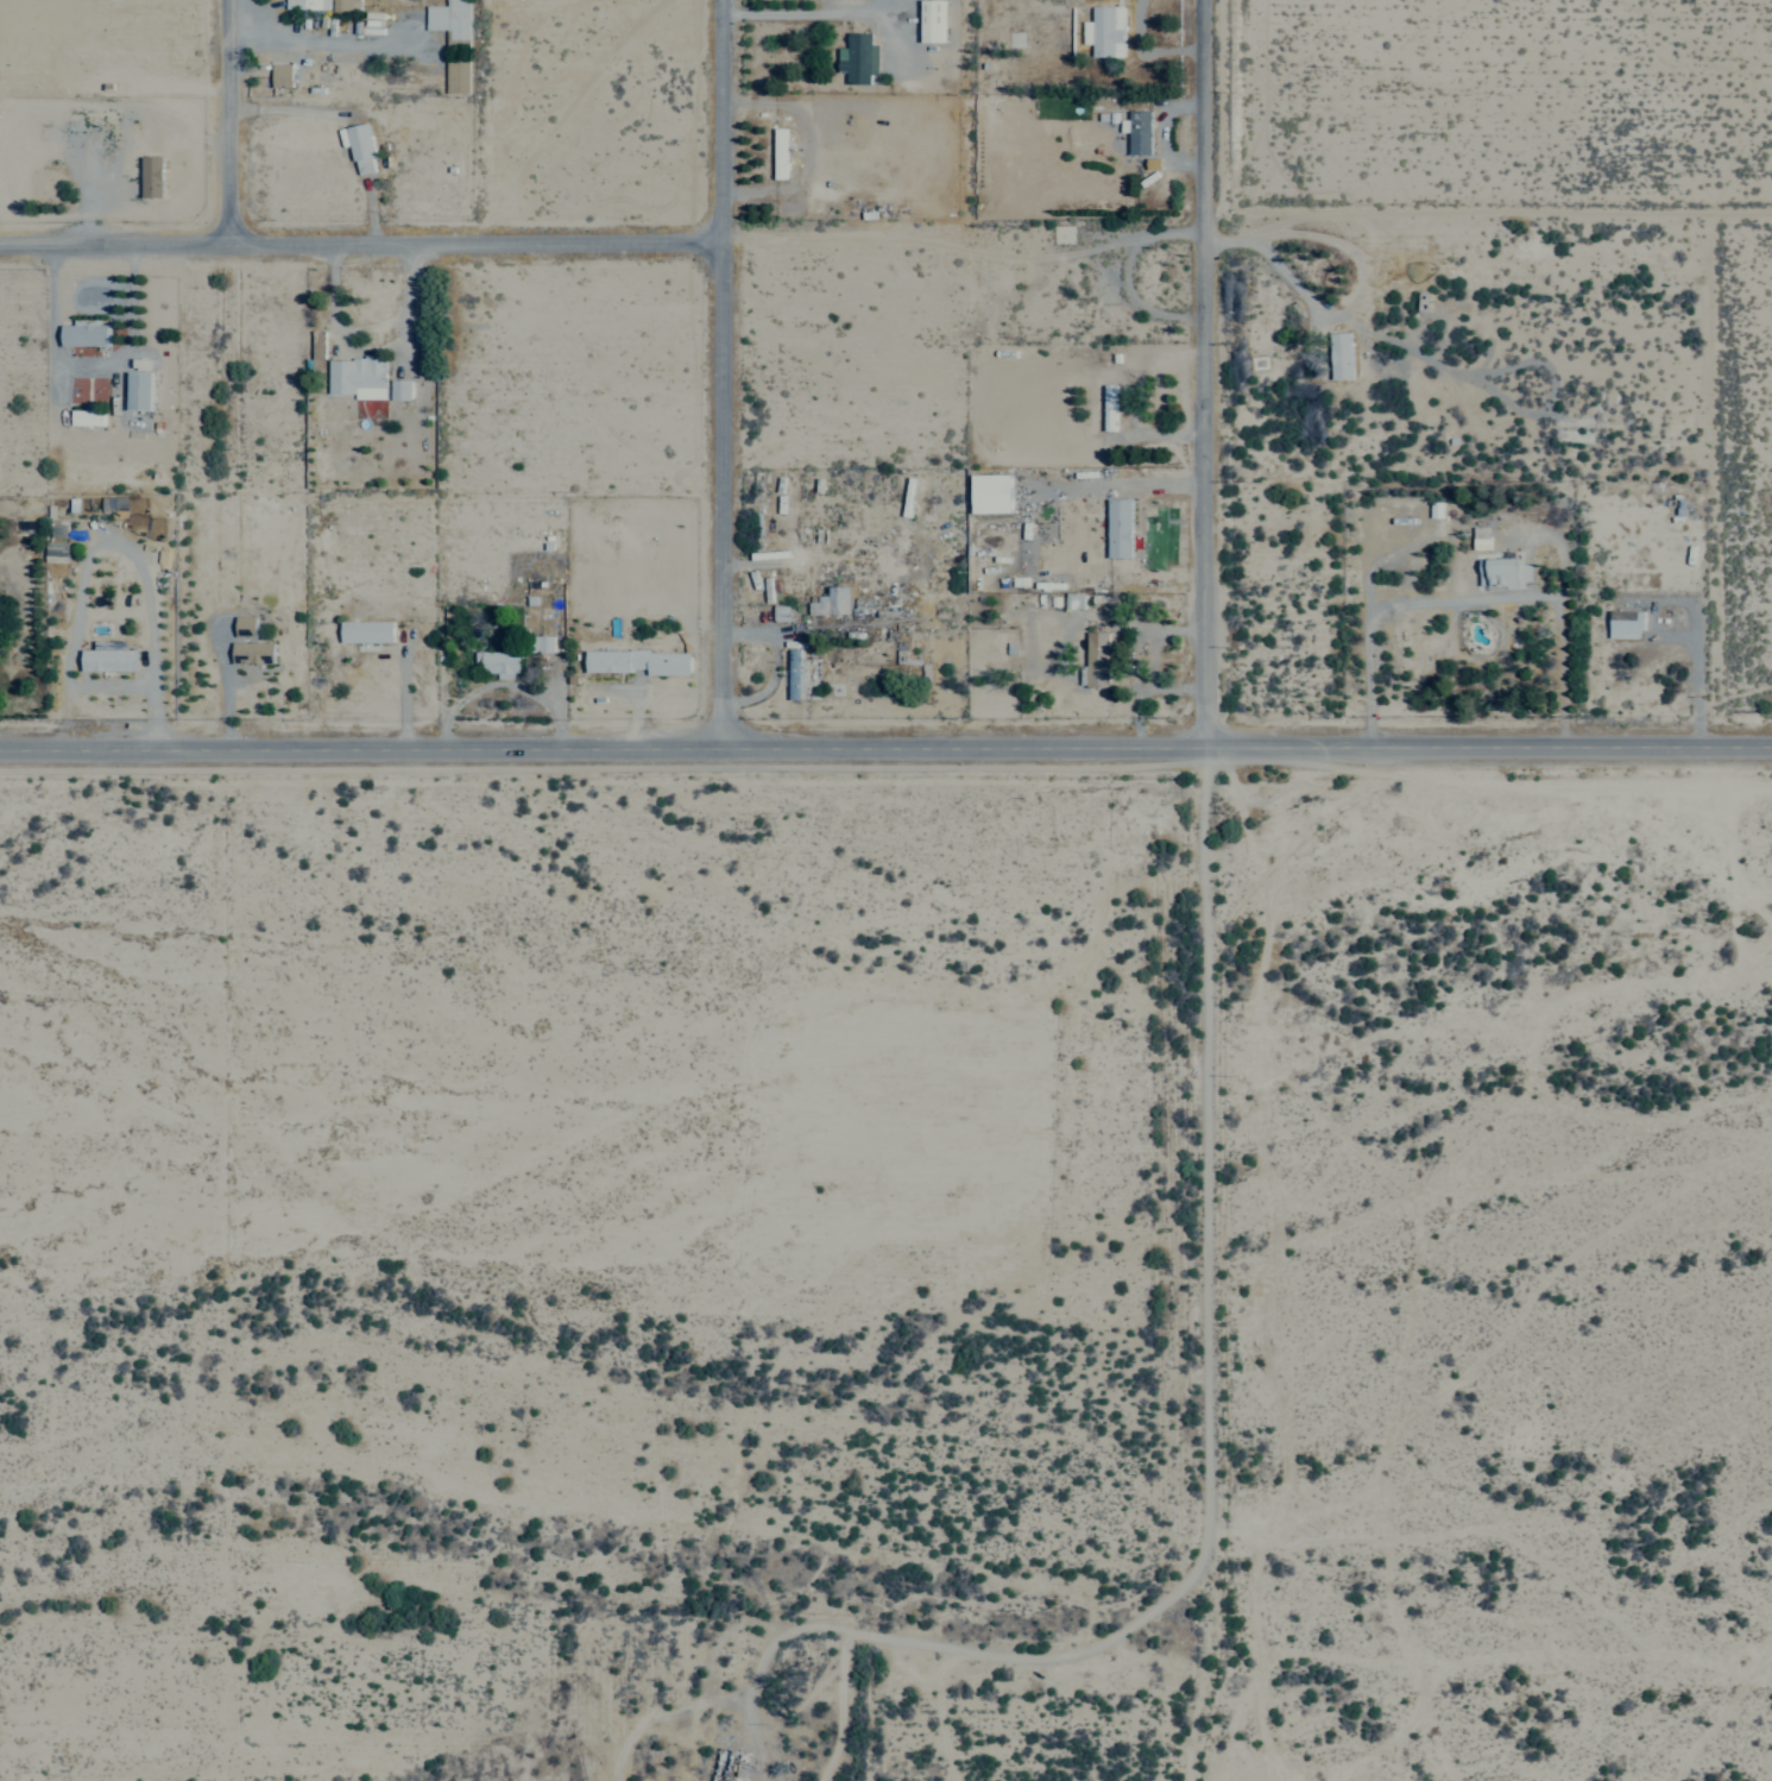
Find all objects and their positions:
building: (323, 4)
road: (797, 13)
building: (927, 20)
building: (1102, 30)
building: (453, 39)
building: (856, 58)
building: (72, 120)
building: (1136, 131)
building: (362, 147)
building: (776, 152)
building: (89, 153)
building: (147, 175)
road: (360, 239)
building: (86, 333)
building: (1337, 355)
road: (1199, 370)
road: (227, 371)
road: (721, 371)
building: (359, 376)
building: (402, 389)
building: (140, 390)
building: (88, 416)
building: (986, 492)
building: (1116, 527)
building: (1477, 537)
building: (56, 552)
building: (1501, 572)
building: (827, 602)
building: (1621, 623)
building: (246, 624)
road: (1702, 625)
building: (367, 630)
building: (544, 642)
building: (253, 652)
building: (111, 657)
building: (1092, 659)
building: (642, 661)
building: (502, 662)
building: (794, 675)
road: (885, 744)

